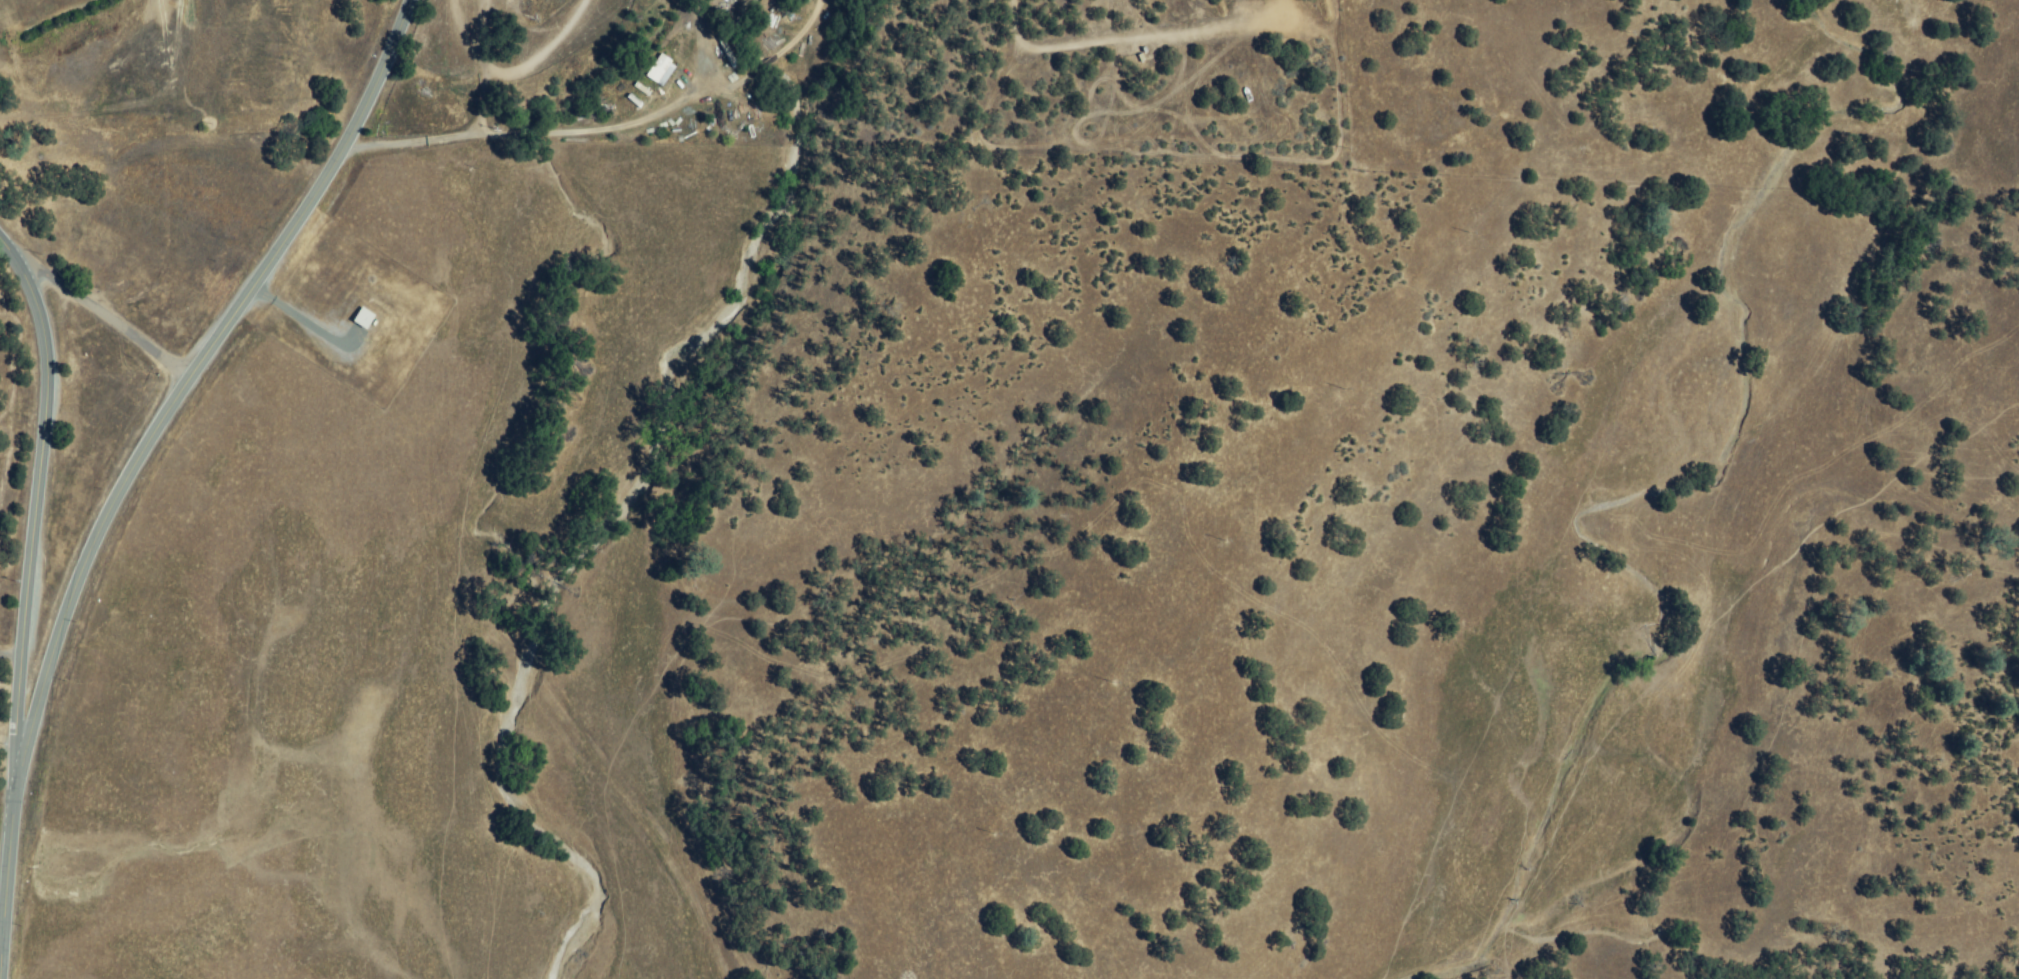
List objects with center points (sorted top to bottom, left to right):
building: (661, 71)
road: (570, 132)
road: (11, 254)
road: (108, 317)
building: (363, 319)
road: (140, 457)
road: (34, 537)
road: (1, 938)

